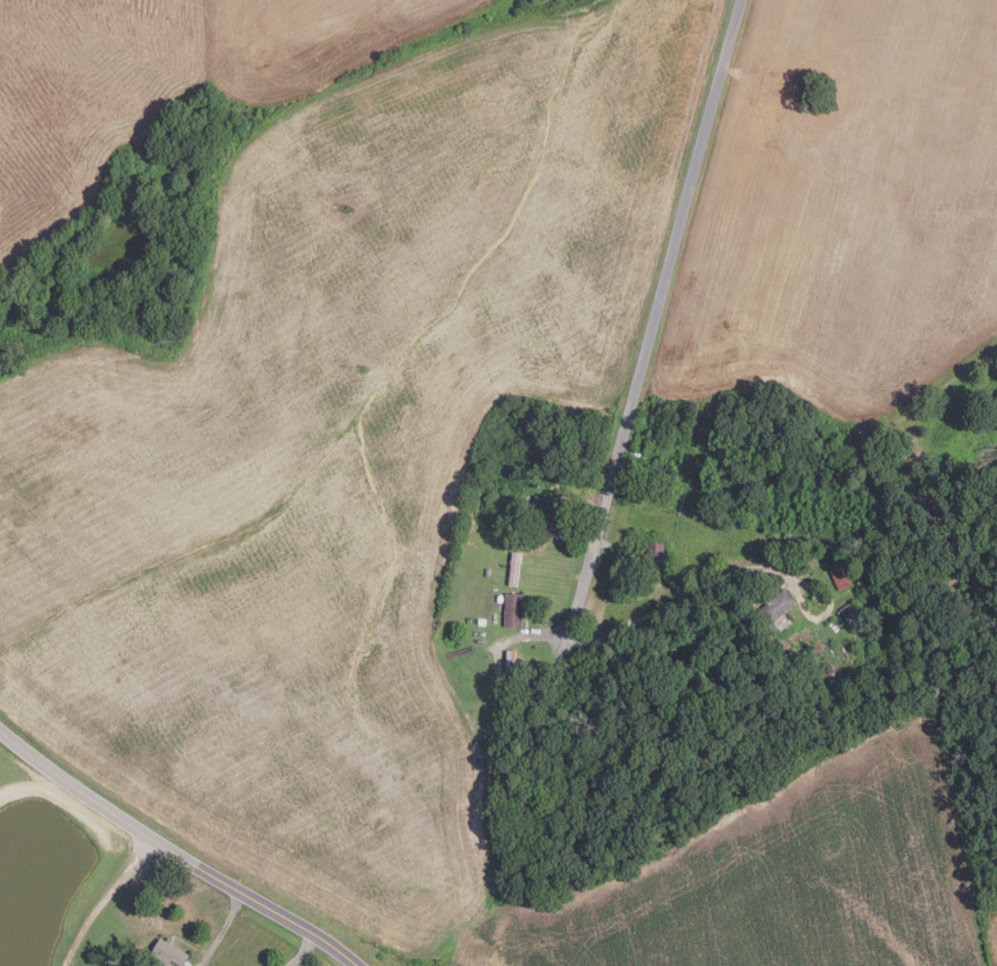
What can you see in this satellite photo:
road: (656, 316)
building: (661, 473)
building: (722, 474)
building: (775, 496)
building: (539, 508)
building: (790, 535)
building: (876, 549)
building: (655, 553)
building: (515, 568)
building: (488, 571)
building: (842, 576)
building: (631, 581)
building: (500, 598)
building: (777, 605)
road: (660, 608)
building: (513, 609)
building: (852, 613)
building: (482, 621)
building: (509, 669)
road: (175, 852)
road: (106, 899)
road: (303, 950)
building: (167, 952)

